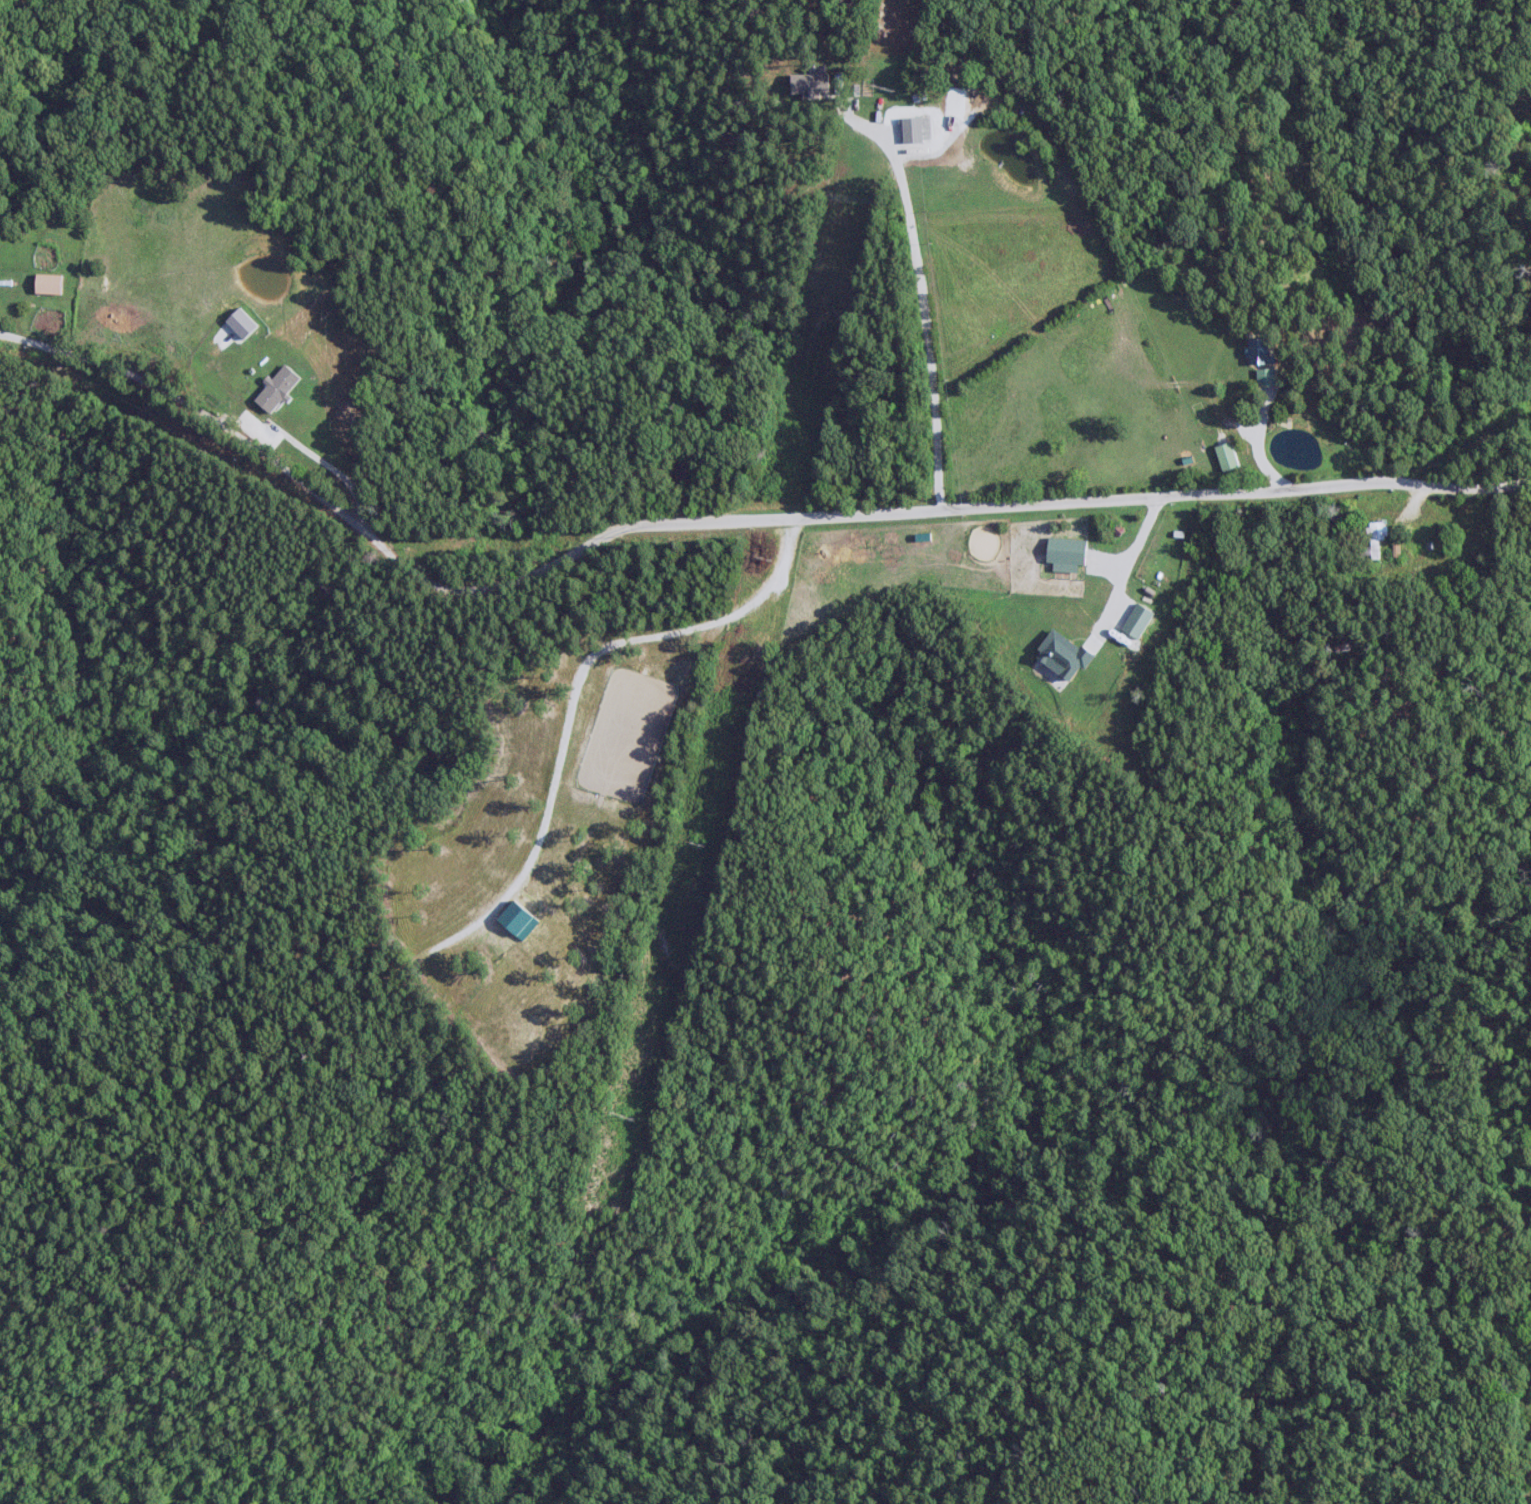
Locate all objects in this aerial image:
building: (808, 84)
power tower: (881, 86)
building: (914, 128)
building: (46, 283)
road: (926, 326)
building: (1257, 351)
building: (1264, 376)
building: (275, 388)
building: (1225, 456)
road: (722, 519)
building: (1375, 537)
building: (1064, 553)
power tower: (765, 560)
building: (1136, 621)
building: (1060, 655)
power tower: (693, 844)

